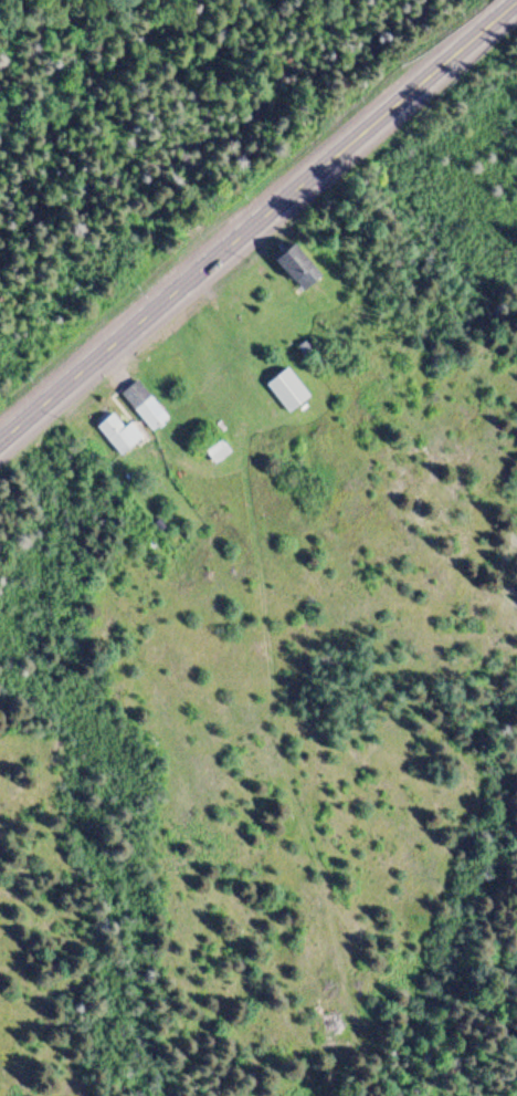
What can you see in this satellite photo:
river: (494, 14)
river: (154, 138)
road: (257, 219)
building: (286, 390)
building: (143, 406)
building: (118, 435)

